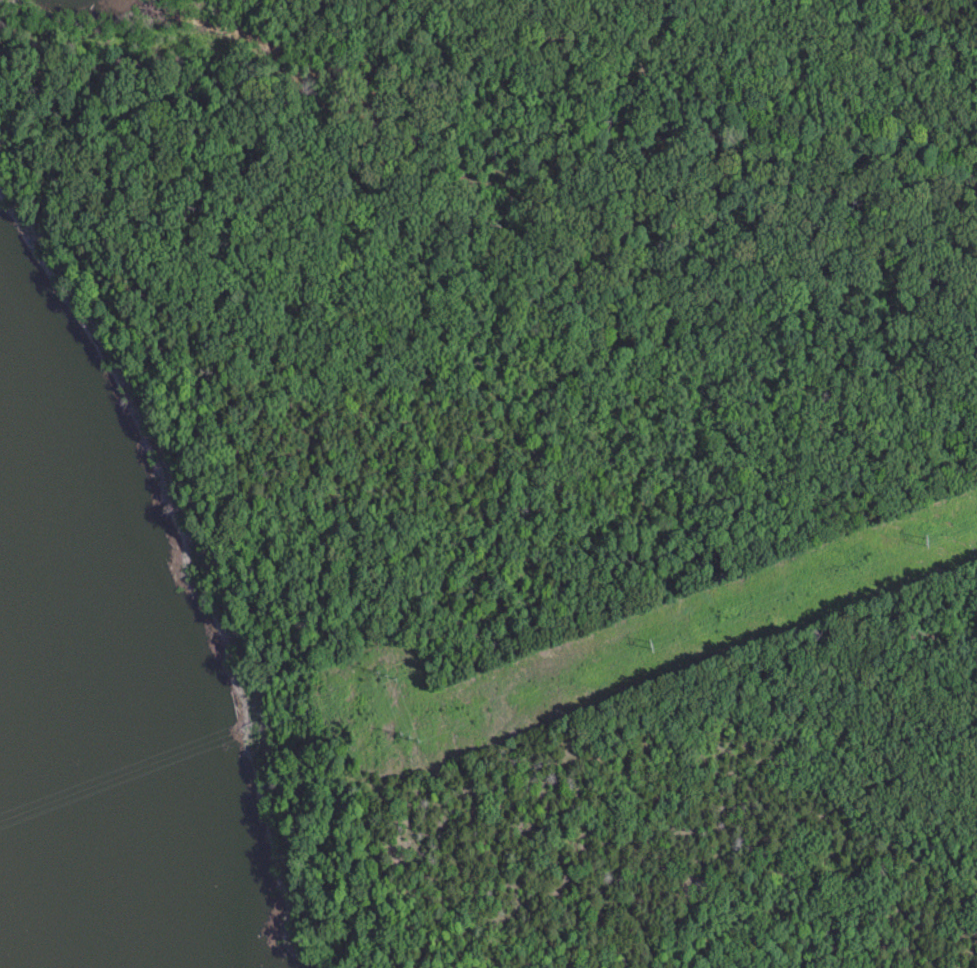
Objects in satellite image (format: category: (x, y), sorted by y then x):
power tower: (914, 541)
power tower: (642, 644)
power tower: (379, 668)
power tower: (400, 731)

